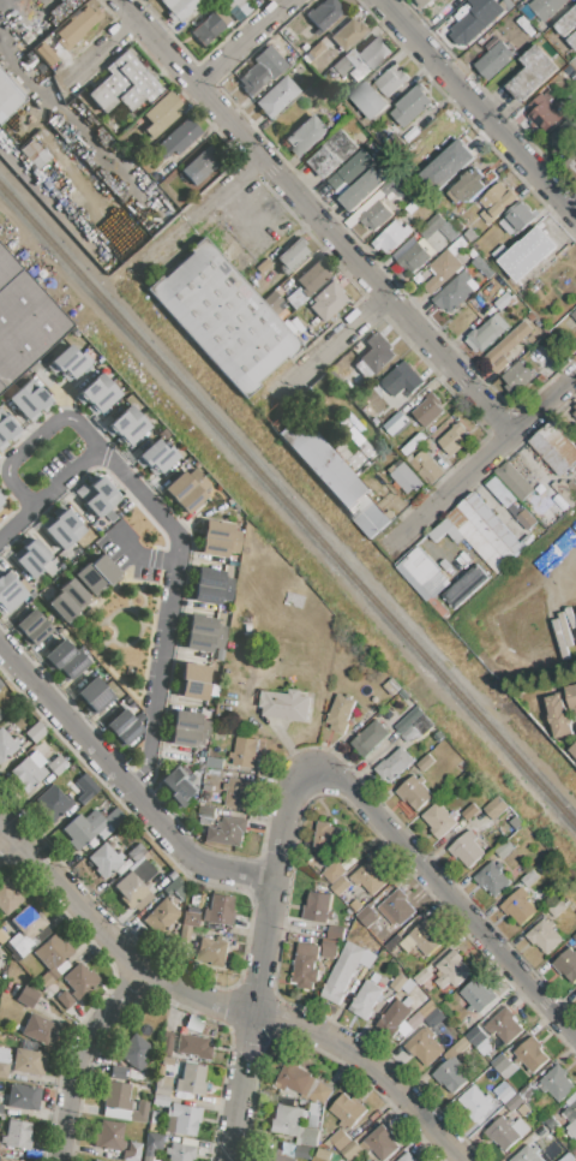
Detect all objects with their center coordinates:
building: (424, 2)
building: (546, 7)
building: (179, 8)
building: (238, 8)
building: (324, 14)
building: (568, 22)
building: (464, 25)
building: (77, 26)
building: (210, 26)
building: (348, 35)
building: (572, 40)
road: (245, 42)
road: (113, 47)
building: (316, 49)
building: (374, 52)
building: (494, 60)
building: (533, 72)
building: (253, 79)
building: (390, 82)
building: (124, 84)
building: (277, 96)
building: (8, 97)
building: (370, 100)
building: (412, 105)
road: (479, 106)
building: (544, 113)
building: (162, 114)
building: (565, 133)
building: (182, 136)
building: (306, 136)
building: (35, 153)
building: (334, 154)
building: (572, 162)
building: (202, 165)
building: (446, 165)
building: (350, 171)
building: (395, 185)
building: (468, 186)
building: (362, 189)
building: (499, 198)
road: (199, 214)
building: (374, 215)
road: (316, 216)
building: (517, 218)
building: (431, 226)
building: (470, 234)
building: (391, 236)
building: (528, 254)
building: (293, 255)
building: (410, 255)
building: (262, 267)
building: (486, 268)
building: (443, 269)
building: (313, 276)
building: (454, 292)
building: (476, 300)
building: (504, 300)
building: (326, 302)
building: (274, 303)
building: (574, 314)
building: (222, 315)
building: (24, 321)
building: (487, 333)
building: (506, 346)
road: (332, 347)
building: (377, 352)
building: (68, 363)
building: (518, 376)
building: (401, 380)
building: (98, 394)
building: (30, 399)
building: (575, 406)
building: (427, 410)
building: (575, 413)
building: (397, 421)
building: (127, 425)
building: (7, 430)
building: (388, 435)
building: (450, 435)
road: (35, 439)
railway: (229, 440)
building: (413, 443)
building: (355, 446)
building: (554, 447)
building: (156, 457)
road: (485, 459)
building: (425, 466)
building: (571, 472)
building: (334, 476)
building: (407, 478)
building: (514, 480)
road: (64, 481)
building: (500, 489)
building: (566, 492)
building: (181, 493)
building: (96, 496)
building: (1, 501)
building: (560, 506)
building: (516, 507)
building: (550, 516)
building: (527, 519)
road: (14, 522)
building: (494, 523)
building: (62, 526)
building: (442, 530)
building: (487, 530)
building: (456, 535)
building: (216, 538)
building: (476, 538)
road: (138, 555)
building: (31, 556)
building: (421, 573)
building: (97, 574)
building: (466, 585)
building: (210, 588)
building: (10, 594)
building: (68, 601)
building: (294, 601)
road: (167, 617)
building: (32, 629)
building: (246, 630)
building: (203, 632)
building: (220, 655)
building: (65, 661)
building: (192, 681)
building: (92, 696)
building: (572, 697)
building: (286, 704)
building: (341, 714)
building: (0, 715)
building: (559, 716)
building: (407, 721)
building: (122, 727)
building: (186, 728)
building: (36, 733)
building: (408, 733)
building: (370, 737)
building: (6, 745)
building: (574, 751)
building: (246, 752)
building: (185, 756)
railway: (517, 760)
building: (215, 762)
building: (425, 762)
building: (395, 763)
building: (58, 766)
building: (29, 772)
building: (209, 780)
road: (124, 786)
building: (178, 786)
building: (84, 787)
building: (209, 787)
building: (414, 791)
building: (238, 792)
building: (53, 802)
building: (494, 806)
building: (206, 811)
building: (469, 811)
building: (438, 820)
building: (92, 826)
building: (227, 830)
building: (330, 836)
road: (4, 839)
building: (467, 849)
building: (503, 850)
building: (136, 852)
building: (104, 861)
building: (323, 863)
building: (334, 871)
building: (172, 875)
building: (371, 876)
building: (492, 877)
building: (529, 877)
building: (136, 886)
building: (342, 887)
road: (448, 897)
building: (7, 898)
building: (518, 905)
building: (318, 906)
building: (556, 906)
building: (397, 907)
building: (218, 910)
building: (161, 916)
building: (190, 917)
building: (26, 933)
building: (336, 933)
building: (184, 934)
building: (545, 935)
building: (2, 936)
building: (426, 937)
building: (574, 937)
building: (329, 948)
building: (212, 951)
building: (53, 959)
road: (260, 959)
building: (566, 964)
building: (306, 965)
building: (451, 969)
building: (346, 970)
building: (422, 975)
building: (80, 981)
building: (398, 982)
building: (408, 984)
building: (476, 994)
building: (28, 996)
building: (65, 1000)
building: (366, 1000)
road: (224, 1004)
building: (421, 1016)
building: (394, 1018)
building: (504, 1025)
building: (38, 1030)
building: (475, 1035)
building: (167, 1044)
building: (425, 1046)
building: (193, 1047)
building: (133, 1052)
building: (530, 1054)
road: (79, 1056)
building: (29, 1062)
building: (167, 1062)
building: (504, 1066)
building: (452, 1067)
building: (4, 1068)
building: (118, 1072)
building: (192, 1079)
building: (302, 1083)
building: (557, 1083)
building: (163, 1085)
building: (504, 1091)
building: (116, 1096)
building: (24, 1097)
building: (160, 1101)
building: (475, 1101)
building: (514, 1103)
building: (0, 1109)
building: (348, 1111)
building: (140, 1112)
building: (571, 1113)
building: (116, 1114)
building: (286, 1118)
building: (186, 1121)
building: (311, 1126)
building: (508, 1131)
building: (17, 1135)
building: (109, 1136)
building: (340, 1139)
building: (380, 1142)
building: (152, 1143)
building: (352, 1150)
building: (133, 1151)
building: (181, 1151)
building: (281, 1153)
building: (304, 1153)
building: (323, 1154)
building: (527, 1154)
building: (408, 1157)
building: (568, 1157)
building: (5, 1160)
building: (94, 1160)

